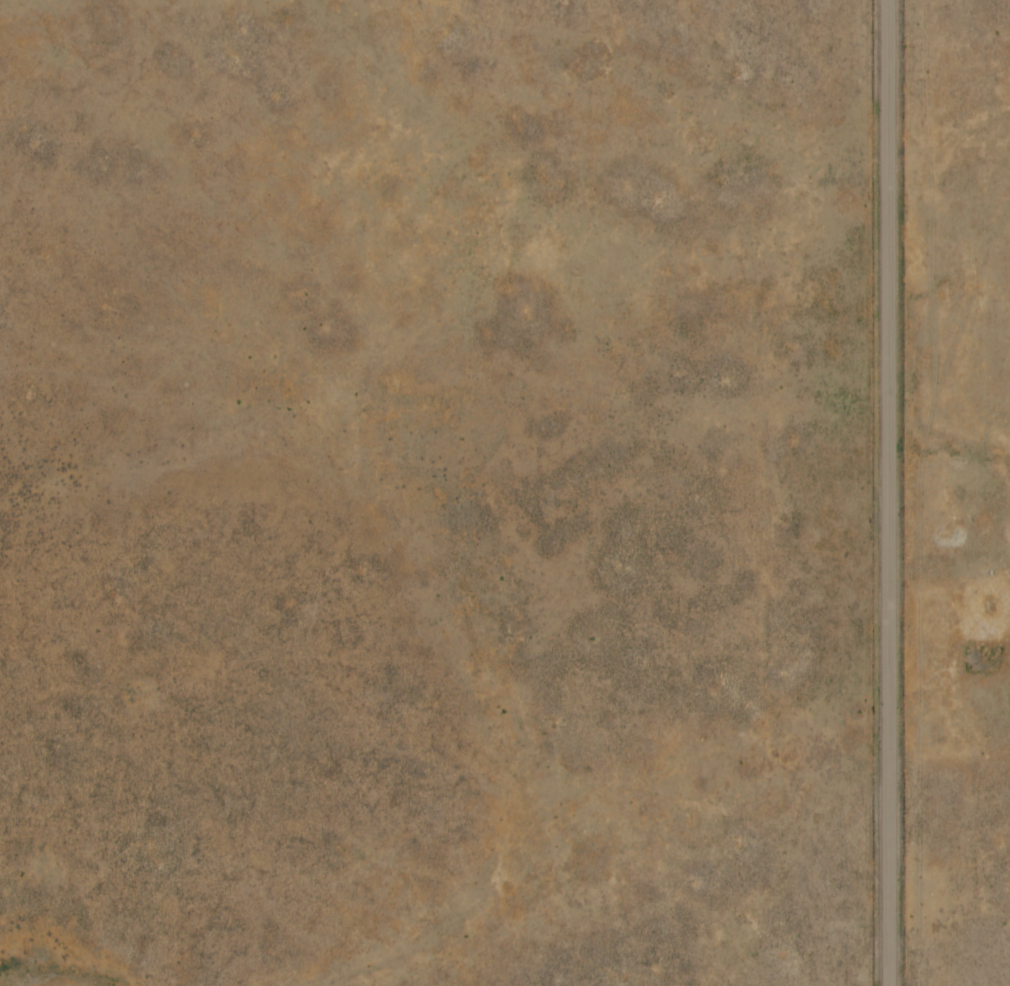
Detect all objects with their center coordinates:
road: (890, 493)

